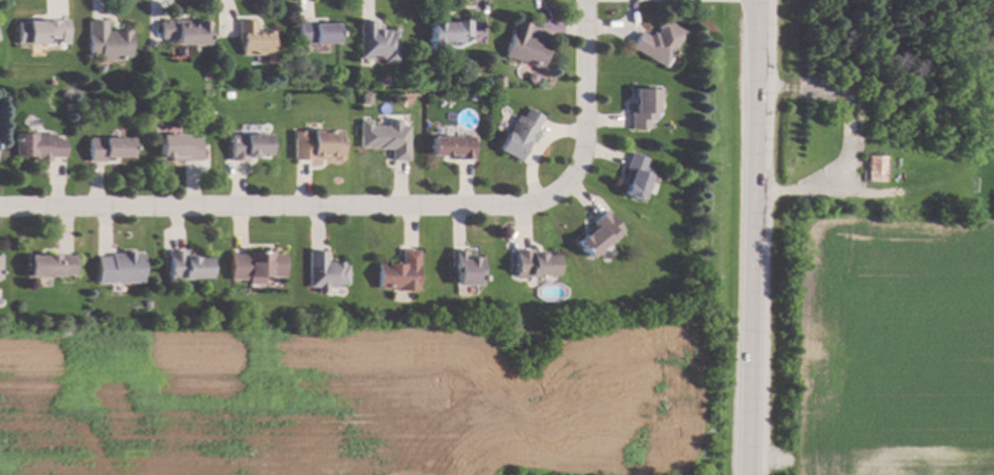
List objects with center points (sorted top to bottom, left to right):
building: (37, 30)
building: (183, 32)
building: (315, 32)
building: (447, 32)
building: (252, 39)
building: (106, 41)
building: (376, 42)
building: (658, 42)
building: (524, 45)
building: (531, 77)
building: (498, 81)
building: (68, 107)
building: (643, 107)
park: (883, 109)
building: (519, 133)
building: (389, 138)
building: (316, 144)
building: (38, 145)
building: (247, 146)
building: (451, 146)
building: (178, 147)
building: (107, 148)
road: (848, 151)
building: (873, 167)
building: (635, 176)
road: (381, 207)
building: (599, 233)
road: (756, 237)
building: (48, 264)
building: (533, 264)
building: (255, 265)
building: (186, 266)
building: (119, 267)
building: (464, 267)
building: (324, 271)
building: (399, 272)
building: (147, 303)
crop: (897, 347)
crop: (351, 402)

